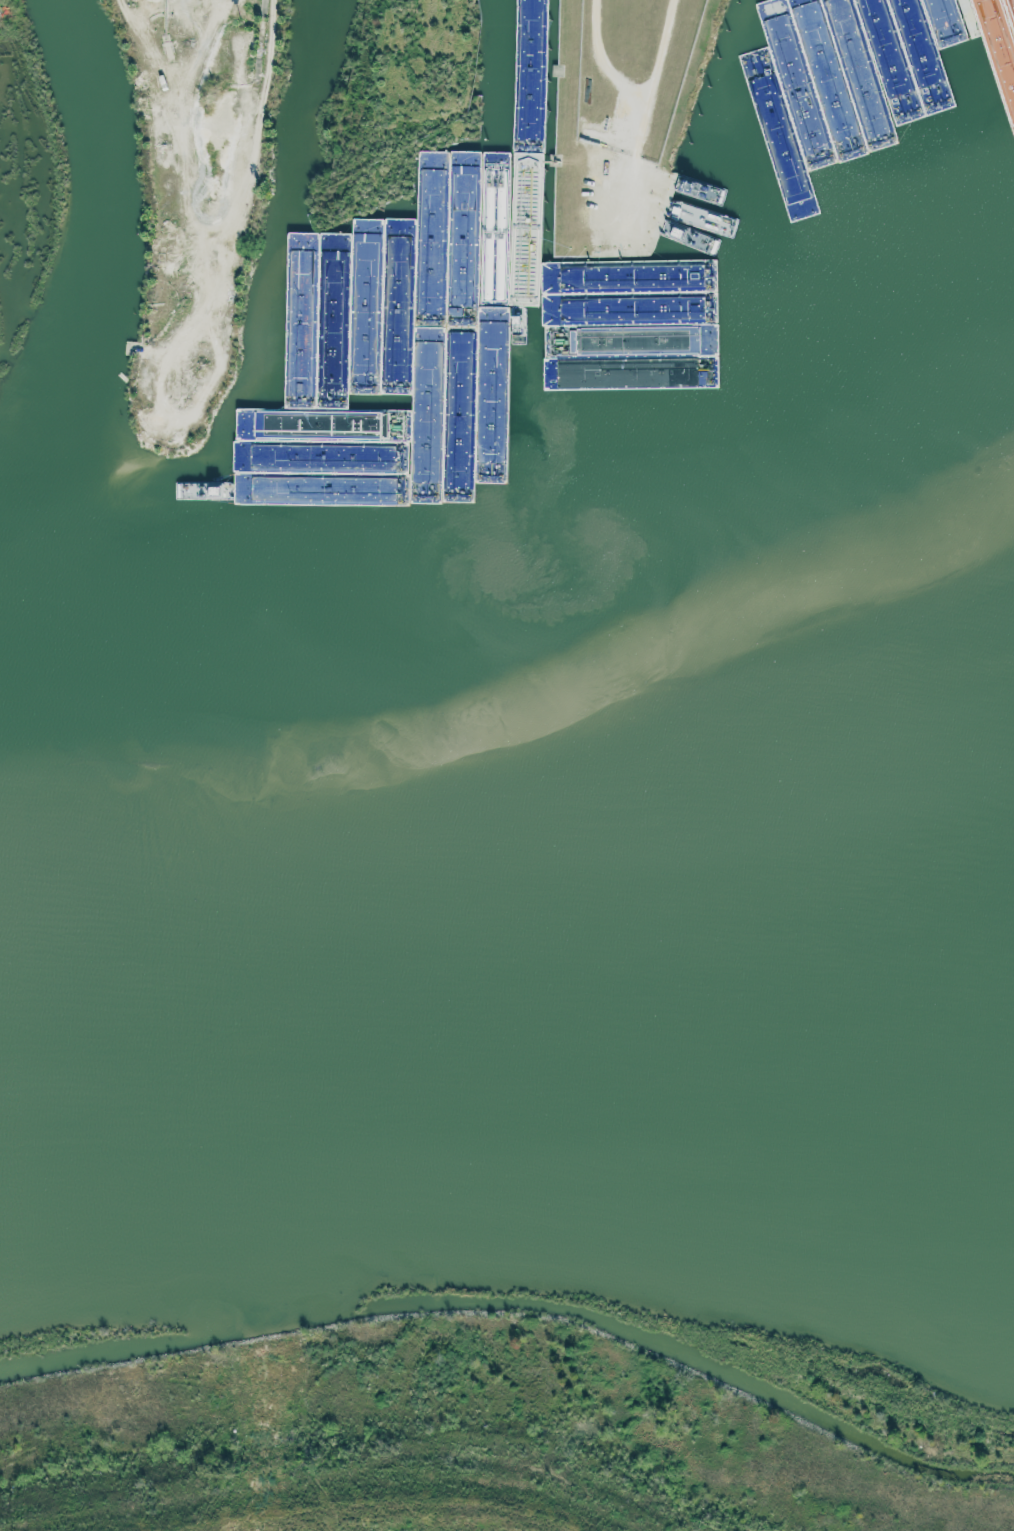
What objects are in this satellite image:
road: (601, 59)
road: (416, 69)
road: (642, 120)
road: (203, 164)
landfill: (566, 1491)

